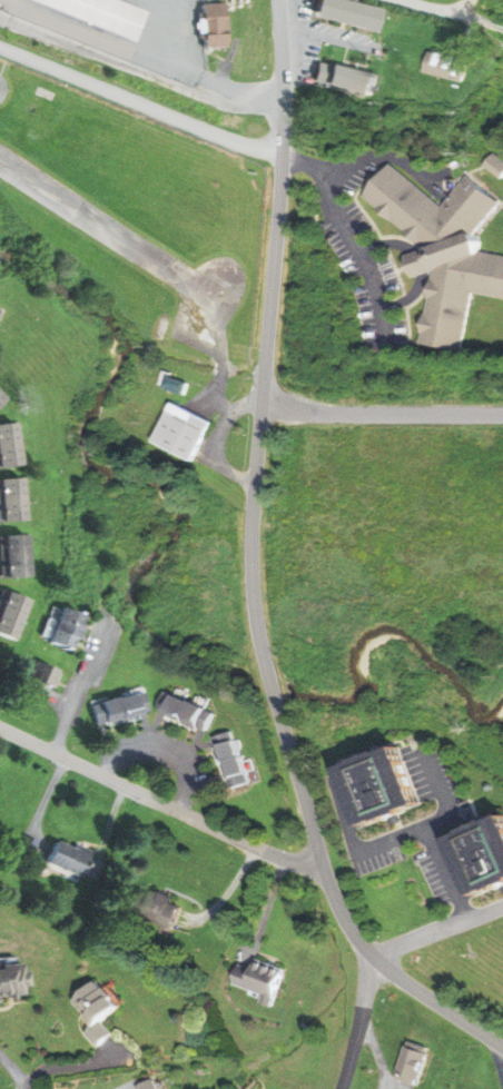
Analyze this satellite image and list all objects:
road: (466, 8)
road: (447, 11)
building: (100, 13)
building: (353, 16)
road: (179, 19)
building: (214, 26)
road: (500, 28)
road: (87, 30)
building: (446, 67)
road: (193, 71)
building: (348, 80)
road: (231, 90)
airport runway: (96, 218)
road: (352, 238)
building: (446, 248)
airport: (149, 259)
building: (2, 398)
road: (382, 414)
building: (184, 432)
building: (10, 445)
building: (13, 501)
building: (14, 557)
road: (253, 567)
building: (11, 613)
building: (68, 628)
river: (392, 633)
building: (40, 682)
road: (83, 684)
building: (119, 709)
building: (186, 711)
building: (233, 761)
building: (392, 786)
road: (158, 801)
road: (447, 801)
road: (434, 845)
building: (489, 857)
building: (70, 858)
building: (162, 908)
road: (437, 930)
building: (14, 980)
building: (262, 981)
building: (105, 1010)
road: (359, 1023)
building: (412, 1066)
road: (11, 1073)
road: (30, 1080)
building: (150, 1086)

